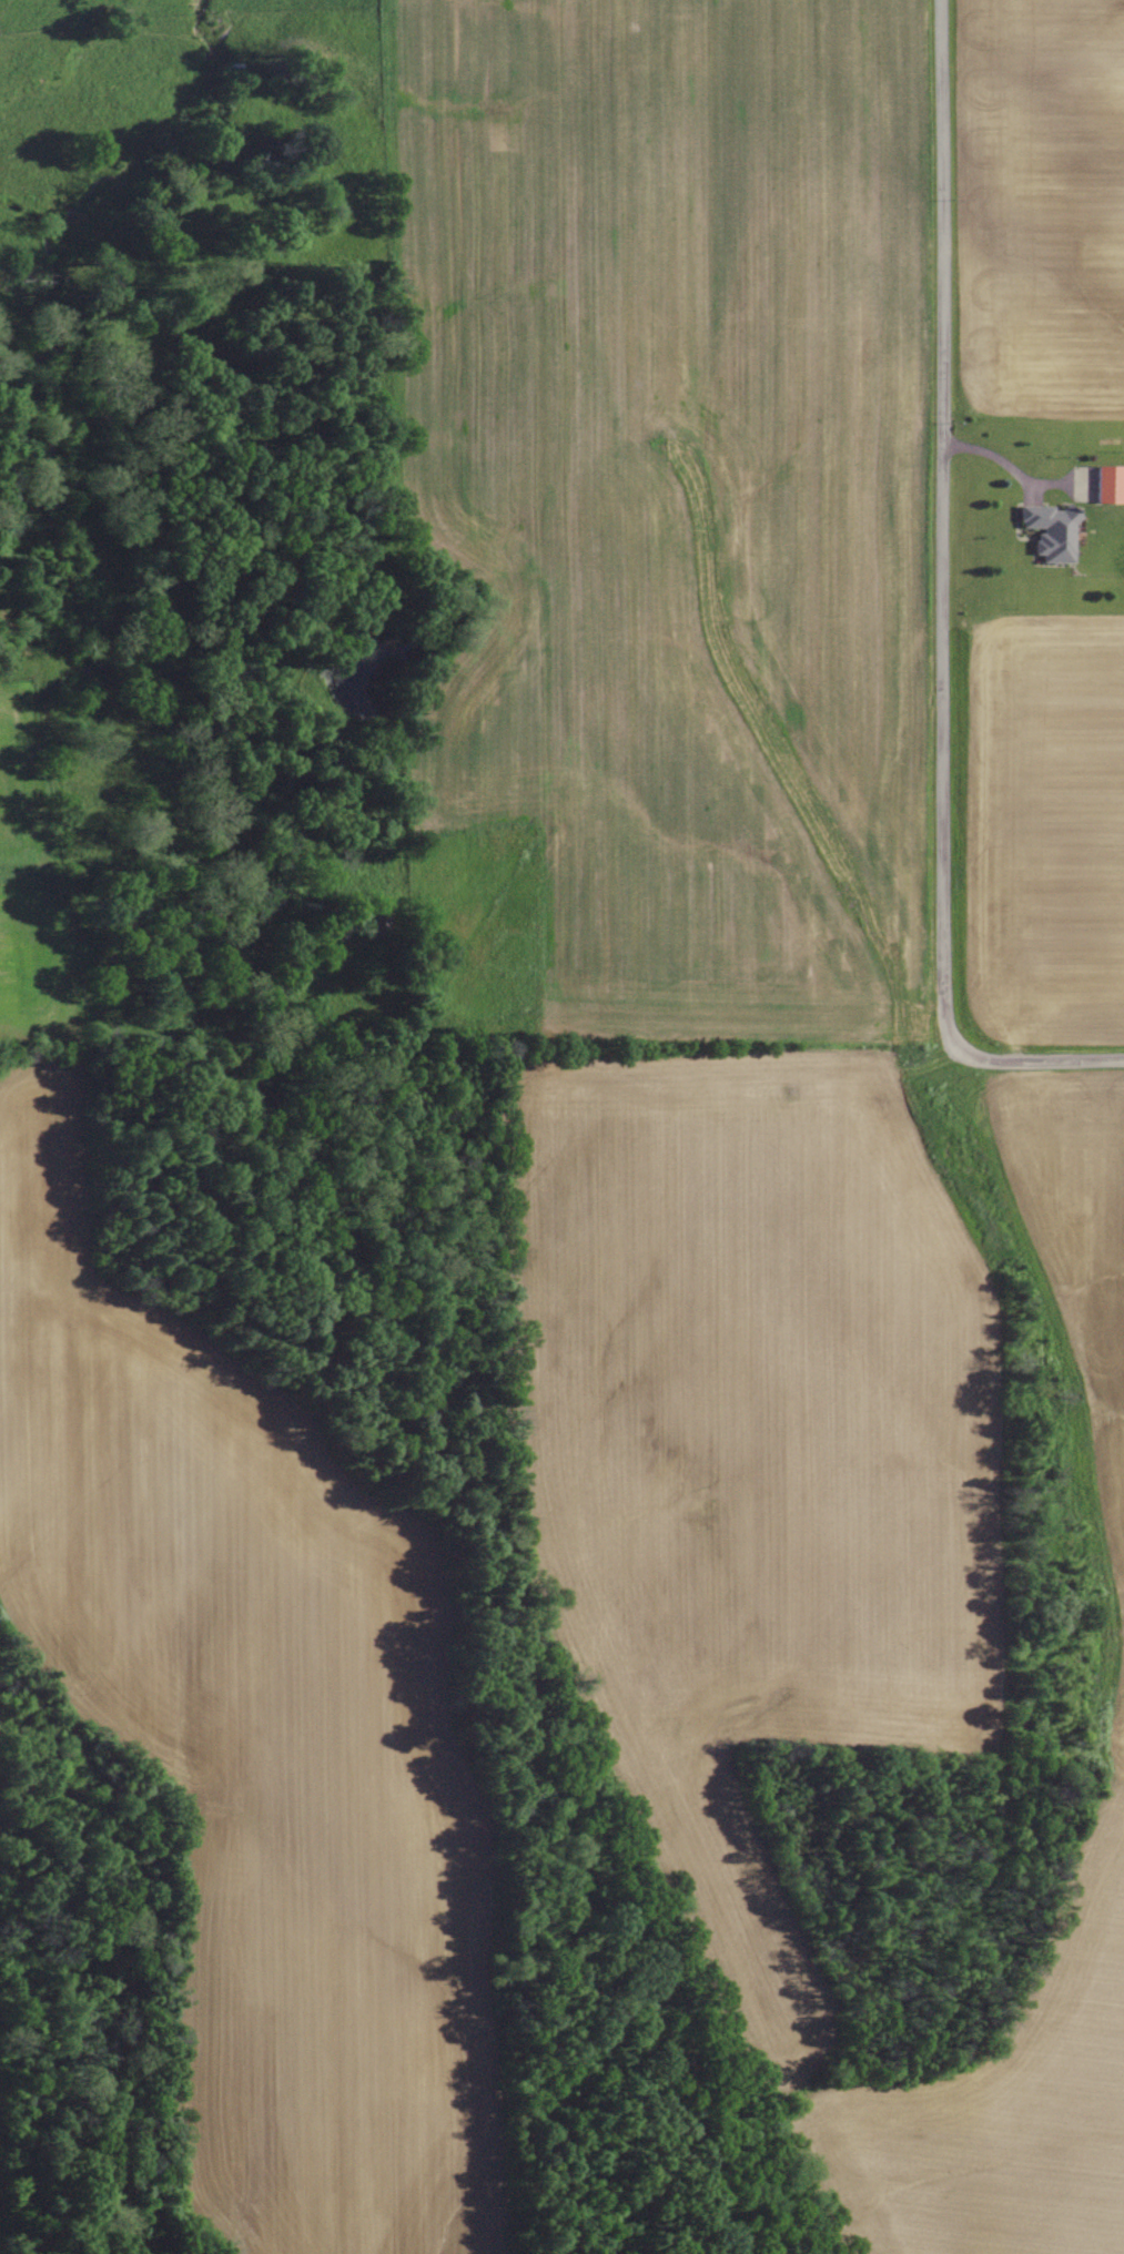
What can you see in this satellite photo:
building: (1108, 486)
building: (1051, 532)
road: (942, 611)

